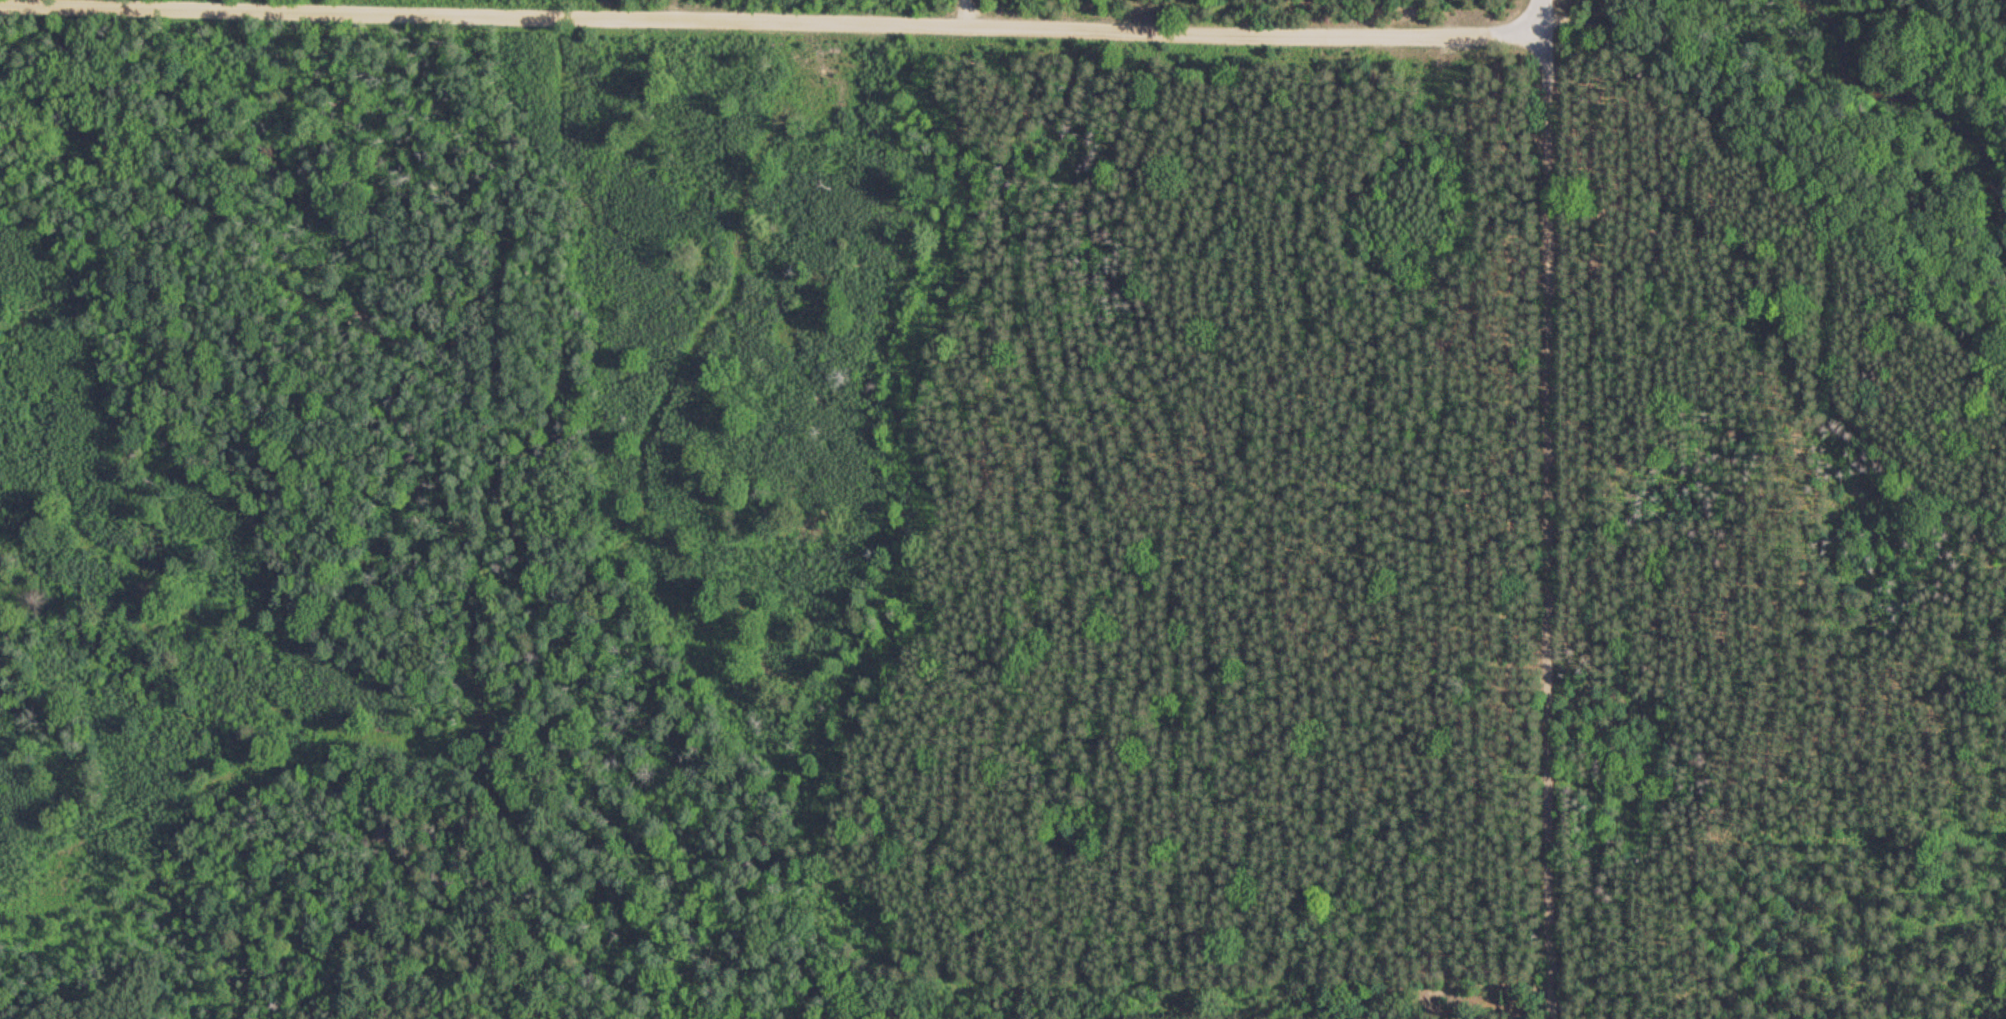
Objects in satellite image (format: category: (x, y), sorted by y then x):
road: (1544, 509)

